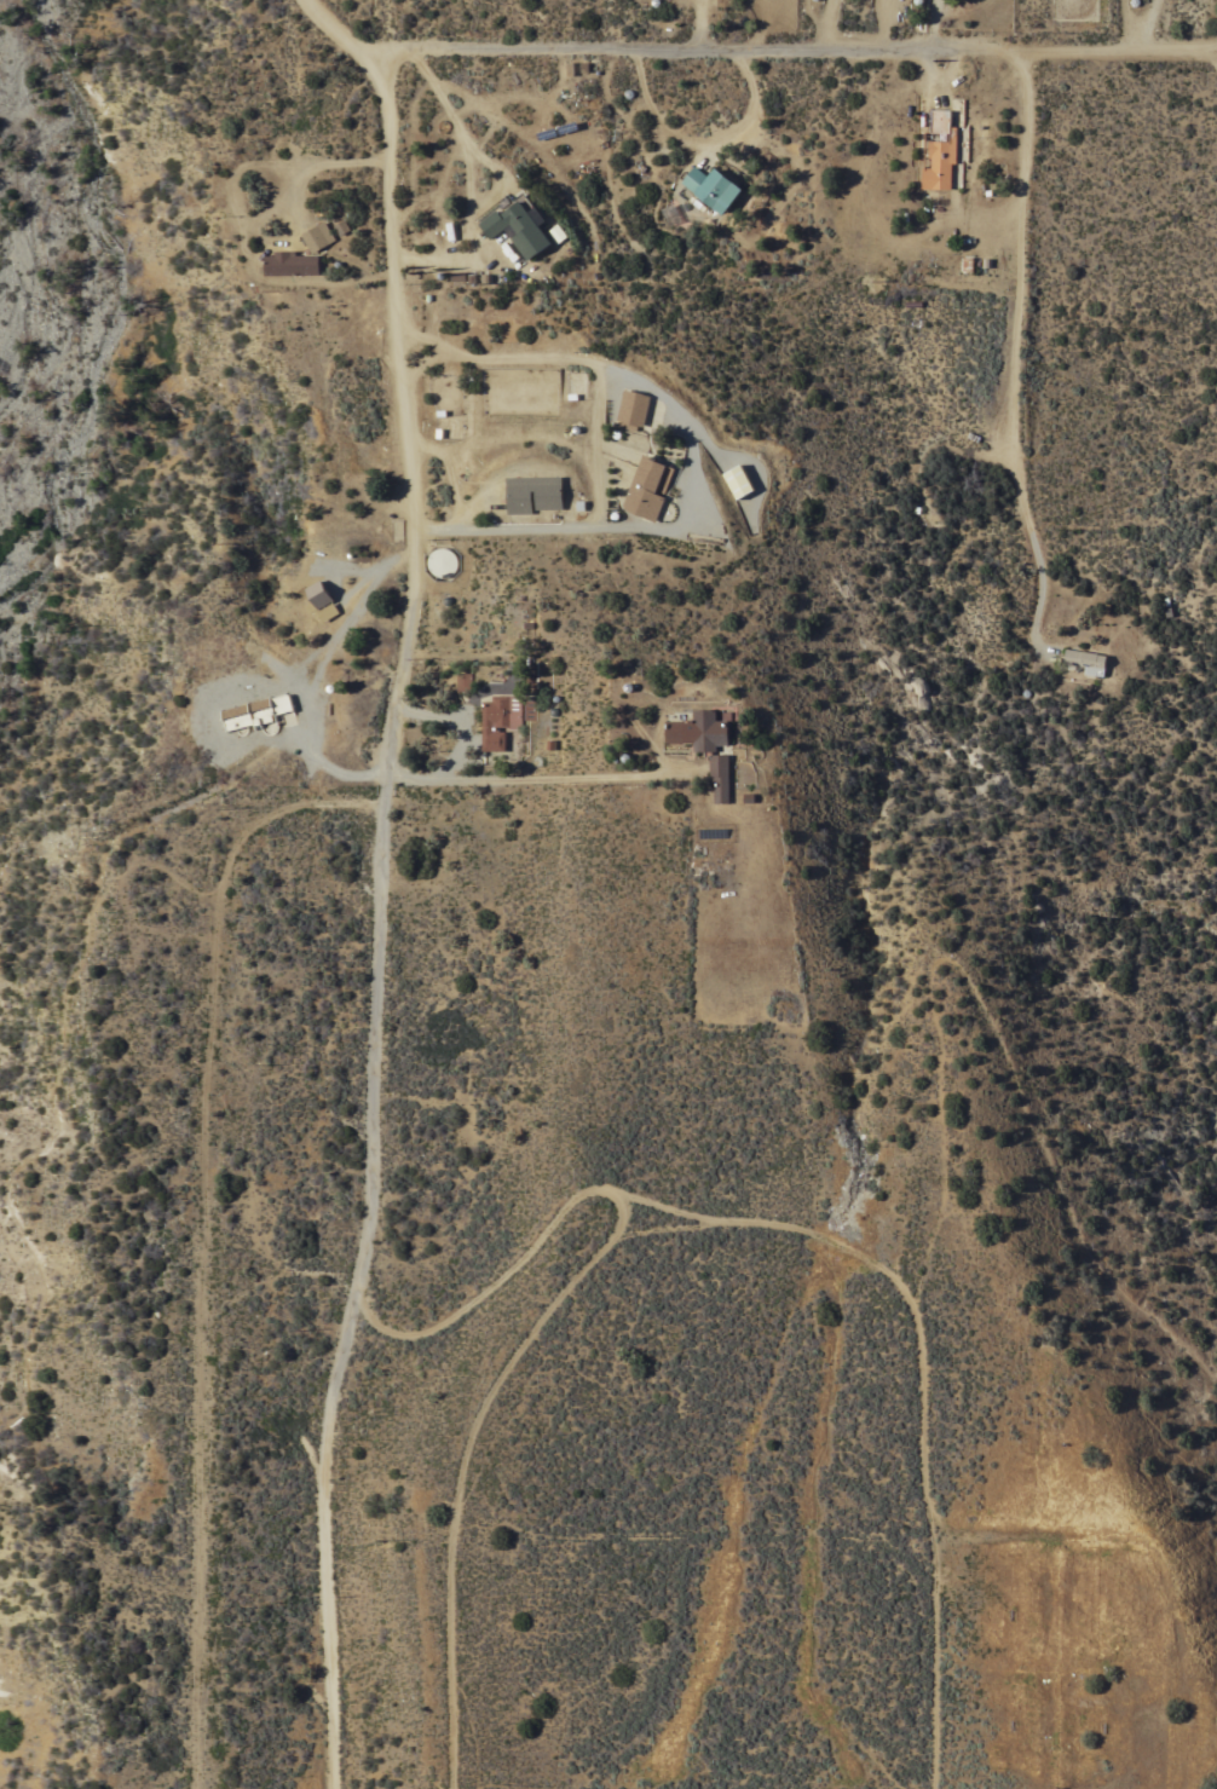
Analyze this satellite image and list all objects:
road: (886, 24)
road: (829, 25)
road: (935, 25)
road: (697, 27)
road: (336, 34)
road: (795, 52)
road: (1216, 54)
road: (702, 142)
building: (940, 151)
road: (467, 181)
building: (711, 187)
building: (518, 227)
building: (317, 230)
road: (241, 235)
building: (288, 256)
road: (423, 337)
road: (567, 358)
road: (1015, 358)
road: (425, 363)
building: (631, 409)
road: (536, 440)
building: (738, 480)
building: (647, 487)
building: (548, 500)
road: (657, 532)
building: (442, 561)
building: (321, 601)
building: (1085, 660)
road: (315, 673)
building: (462, 681)
building: (527, 706)
building: (255, 711)
road: (460, 719)
building: (497, 719)
building: (698, 731)
road: (536, 777)
building: (719, 777)
road: (531, 848)
road: (381, 923)
road: (200, 1227)
road: (543, 1317)
road: (923, 1383)
road: (563, 1436)
road: (411, 1494)
road: (951, 1546)
road: (1141, 1546)
road: (258, 1558)

